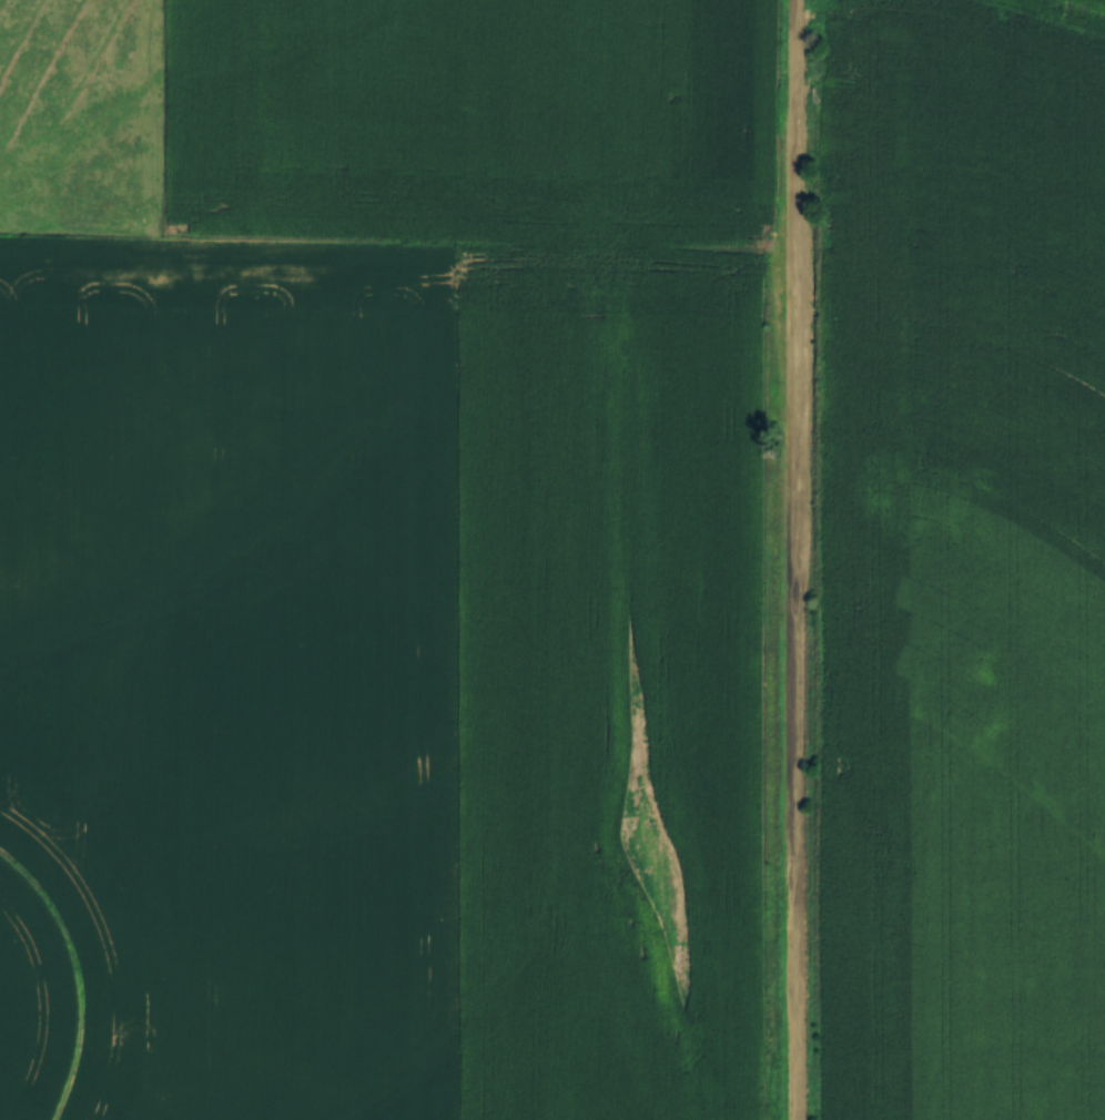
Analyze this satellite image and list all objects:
road: (785, 560)

